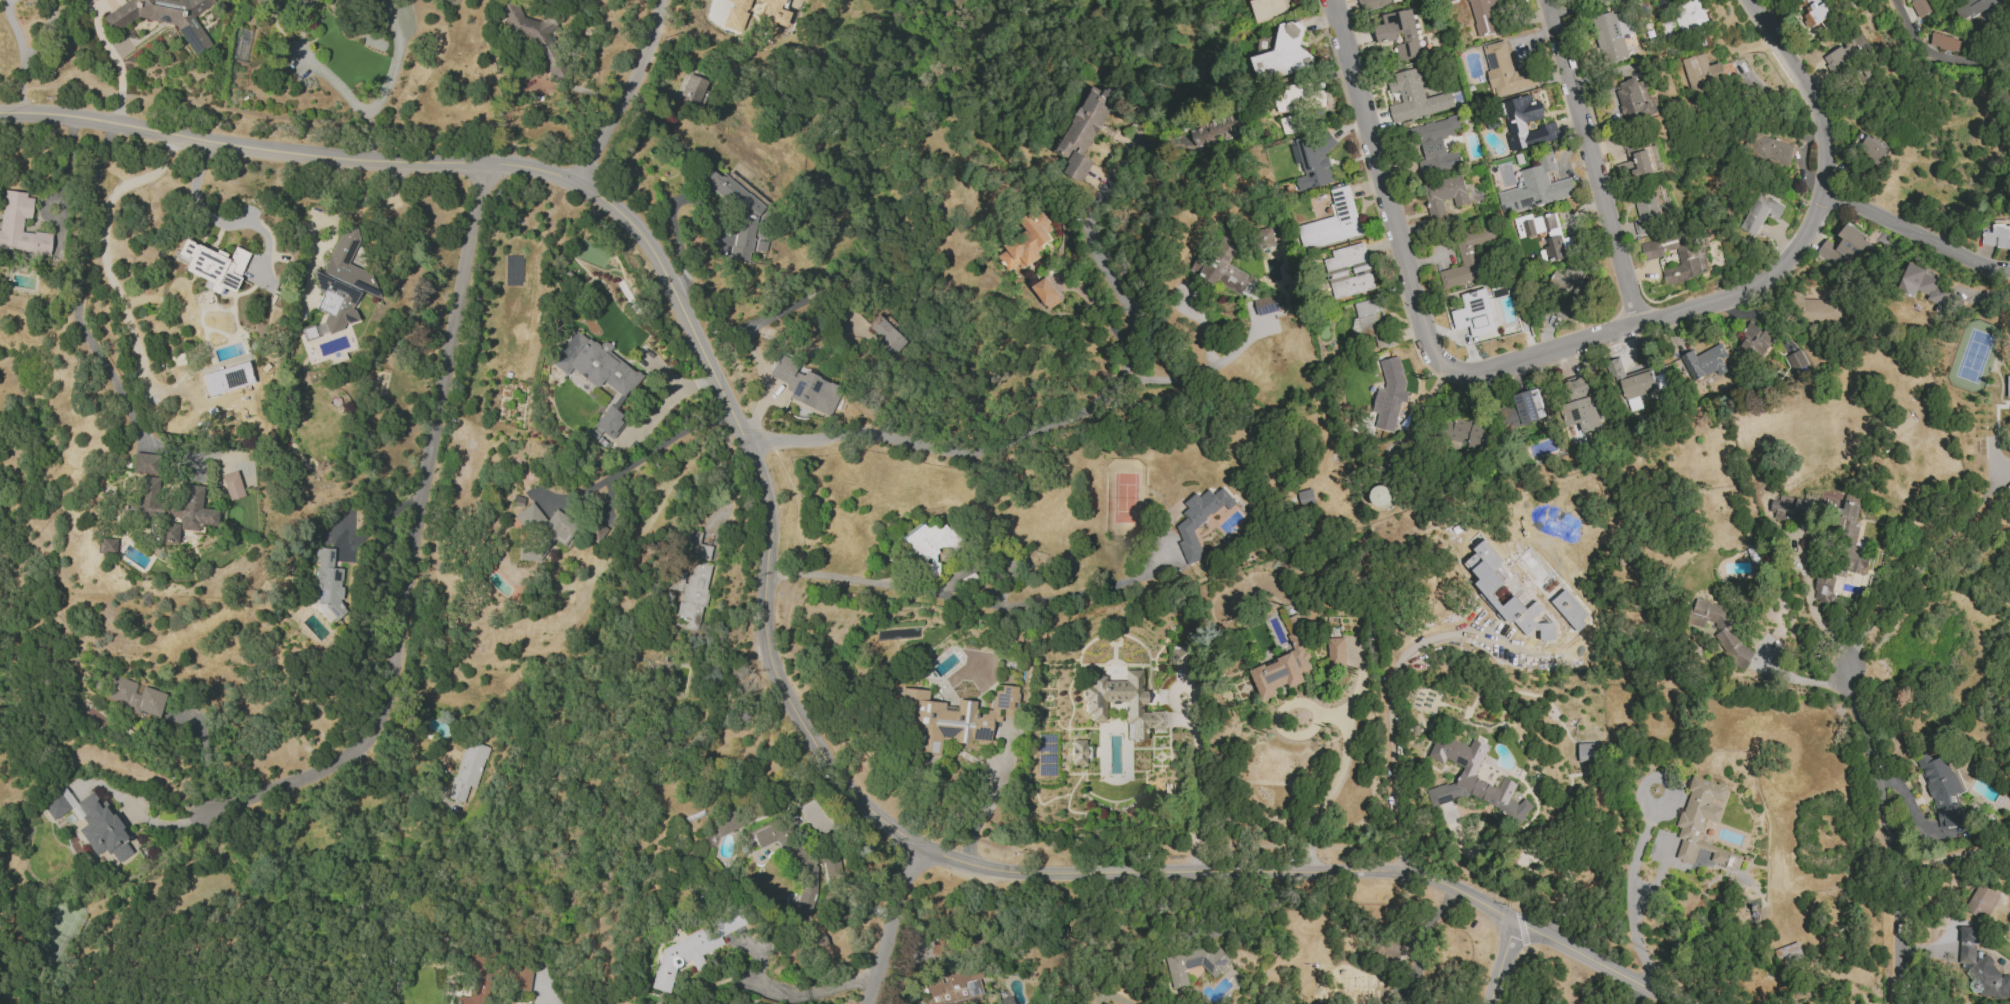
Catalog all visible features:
building: (265, 0)
road: (695, 0)
building: (1372, 4)
road: (1665, 4)
building: (1976, 6)
building: (1921, 7)
building: (1268, 10)
road: (1587, 10)
building: (1815, 12)
building: (772, 13)
building: (735, 14)
building: (1484, 15)
building: (1691, 15)
building: (164, 17)
building: (1669, 28)
building: (1399, 33)
building: (531, 34)
building: (1609, 40)
building: (1943, 42)
road: (22, 54)
building: (1283, 54)
road: (1936, 55)
road: (117, 64)
building: (1505, 71)
building: (1705, 73)
road: (330, 79)
road: (387, 82)
building: (691, 89)
road: (625, 91)
road: (603, 92)
building: (1417, 93)
building: (1633, 100)
road: (507, 113)
building: (1516, 122)
building: (1290, 124)
building: (1217, 130)
building: (1087, 131)
building: (1436, 146)
building: (1768, 150)
building: (1313, 160)
road: (1593, 160)
building: (1640, 161)
building: (1535, 187)
road: (59, 188)
building: (1444, 195)
road: (374, 196)
building: (1760, 214)
road: (217, 221)
building: (1333, 222)
building: (19, 225)
road: (917, 226)
building: (1543, 232)
building: (1997, 236)
building: (1266, 237)
road: (1916, 237)
road: (103, 243)
building: (1028, 243)
building: (1845, 248)
building: (1467, 258)
building: (1690, 258)
building: (212, 265)
building: (1224, 266)
building: (1348, 271)
building: (340, 282)
building: (1924, 286)
building: (1567, 289)
building: (1046, 293)
building: (1266, 305)
building: (1817, 309)
road: (1102, 312)
building: (1474, 313)
building: (1368, 318)
road: (80, 327)
building: (307, 332)
road: (750, 333)
building: (886, 336)
building: (1756, 341)
road: (1576, 342)
building: (1705, 362)
building: (1796, 363)
road: (1208, 373)
building: (596, 374)
building: (1637, 383)
building: (803, 385)
building: (2008, 387)
building: (1390, 394)
building: (1581, 406)
building: (1524, 409)
building: (1466, 433)
road: (1030, 438)
building: (142, 463)
building: (231, 485)
building: (2009, 485)
building: (1381, 496)
building: (142, 497)
building: (1306, 497)
building: (1790, 508)
building: (184, 514)
building: (1200, 520)
building: (594, 530)
building: (540, 531)
building: (1849, 538)
road: (416, 539)
building: (696, 544)
building: (106, 545)
building: (929, 545)
road: (1921, 566)
building: (328, 580)
building: (1490, 588)
building: (1824, 588)
building: (692, 592)
road: (958, 603)
road: (1809, 606)
building: (1570, 610)
road: (765, 613)
building: (1722, 631)
building: (1336, 652)
building: (1181, 657)
building: (1283, 669)
road: (1803, 679)
road: (1387, 688)
road: (1171, 693)
building: (134, 697)
building: (1094, 706)
building: (951, 717)
building: (1076, 751)
building: (1586, 752)
road: (208, 754)
road: (100, 769)
building: (467, 769)
road: (392, 777)
road: (1336, 777)
building: (1472, 779)
road: (1197, 788)
building: (1941, 788)
building: (54, 805)
road: (986, 807)
road: (137, 812)
building: (1703, 823)
building: (720, 826)
building: (102, 828)
road: (1886, 835)
road: (1951, 858)
building: (793, 862)
road: (1632, 897)
building: (1982, 902)
road: (889, 925)
building: (816, 941)
building: (691, 948)
building: (1390, 948)
building: (1788, 954)
building: (1195, 963)
road: (1500, 963)
building: (1981, 967)
building: (519, 976)
building: (474, 981)
building: (954, 987)
road: (14, 991)
road: (814, 991)
road: (1635, 995)

